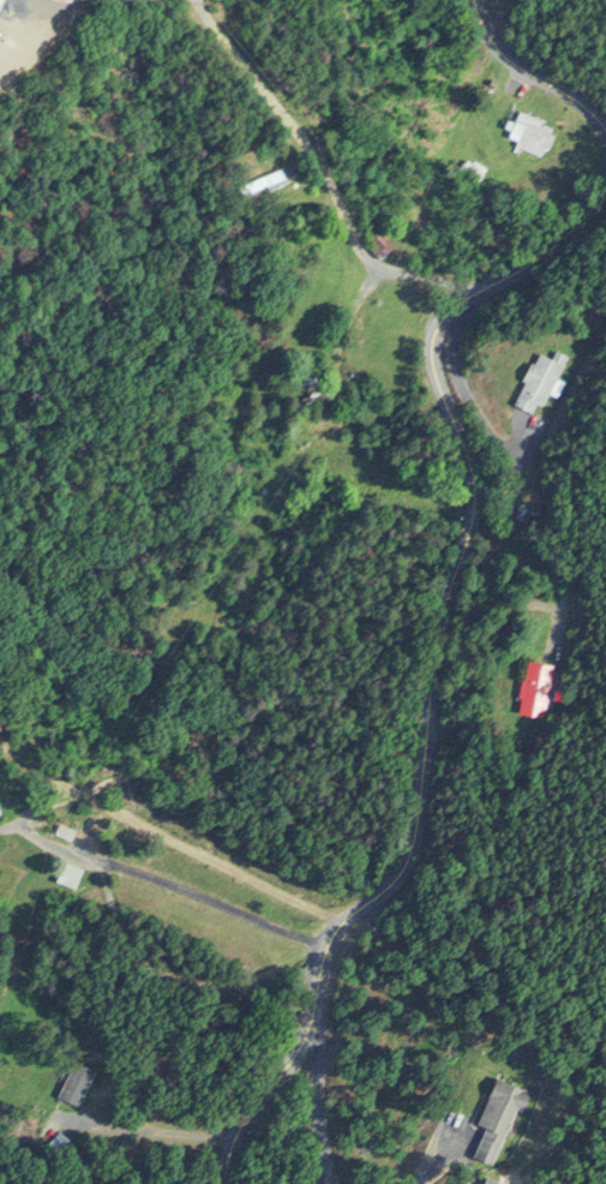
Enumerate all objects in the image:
road: (530, 73)
building: (528, 133)
road: (323, 175)
building: (257, 184)
building: (373, 243)
building: (536, 379)
road: (446, 668)
building: (538, 687)
building: (60, 831)
building: (65, 874)
road: (172, 883)
building: (72, 1082)
building: (494, 1116)
building: (49, 1131)
building: (491, 1180)

